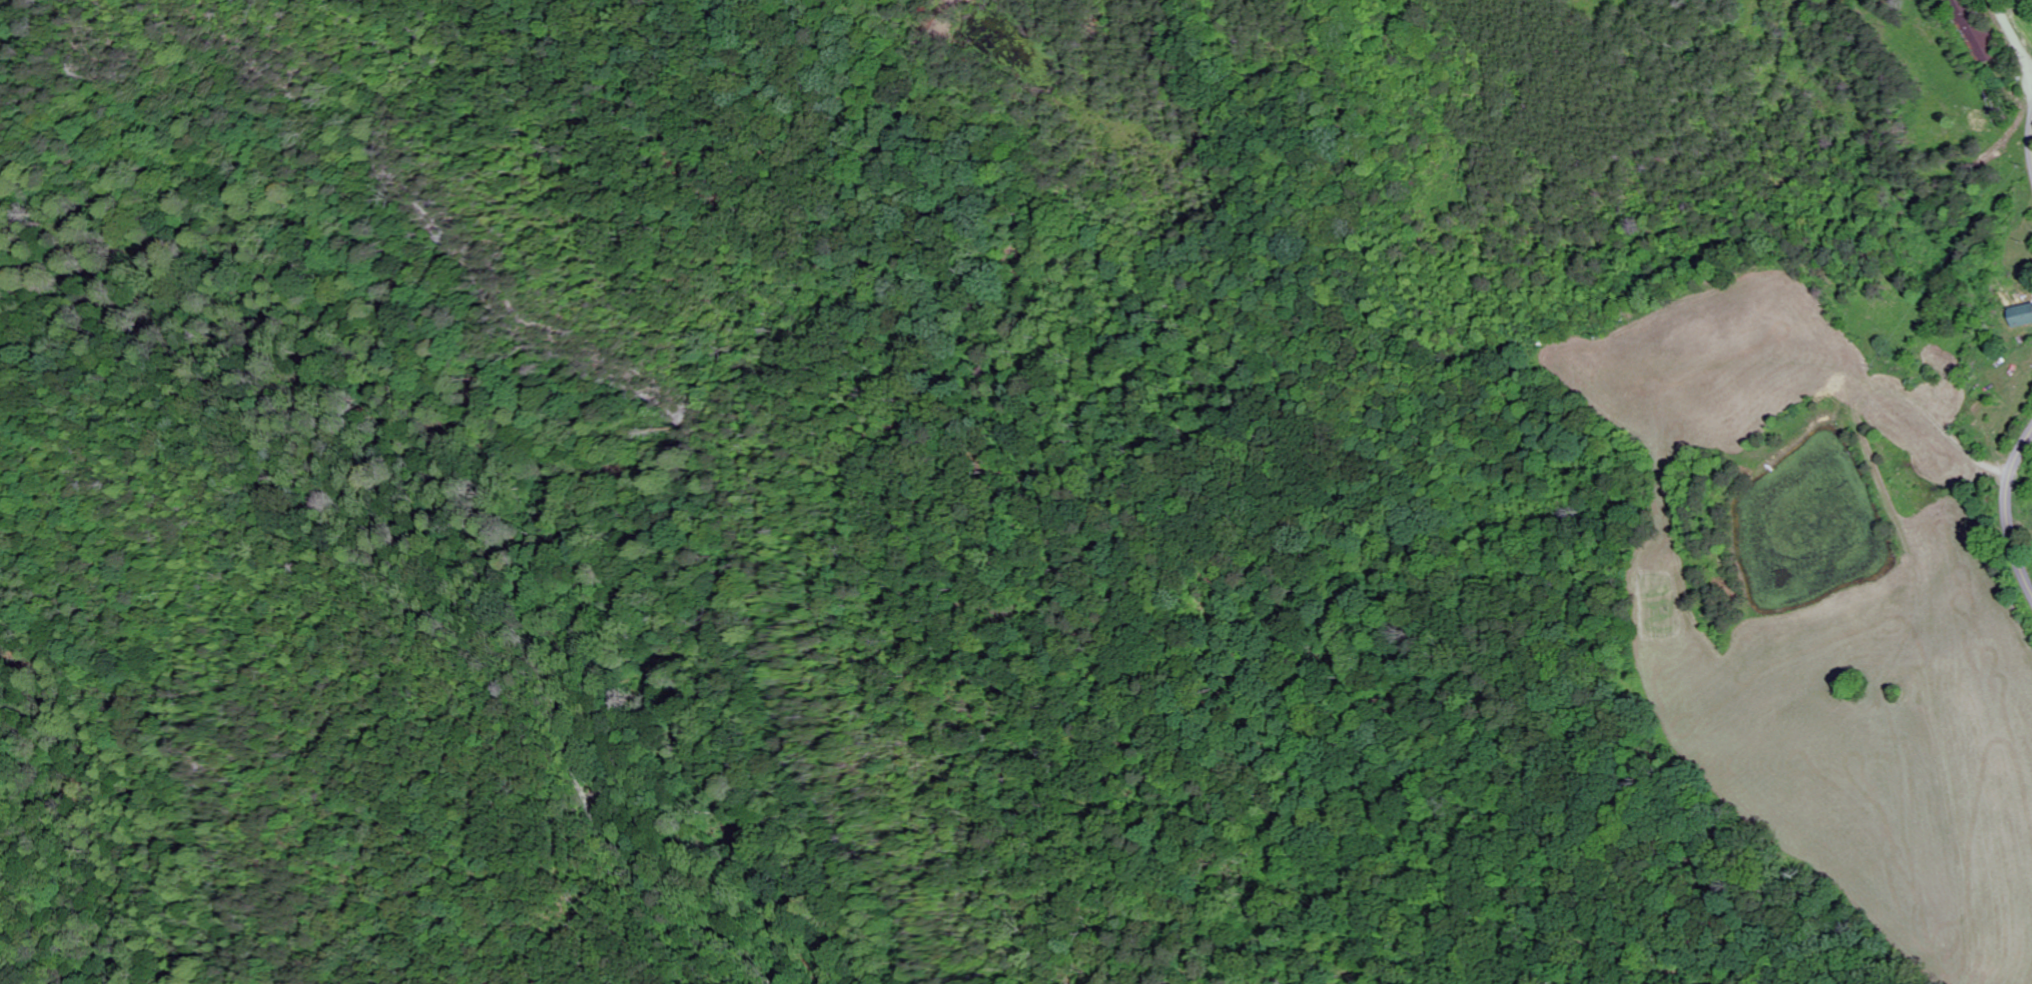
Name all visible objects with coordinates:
road: (2013, 34)
building: (2022, 317)
park: (595, 503)
road: (2007, 507)

